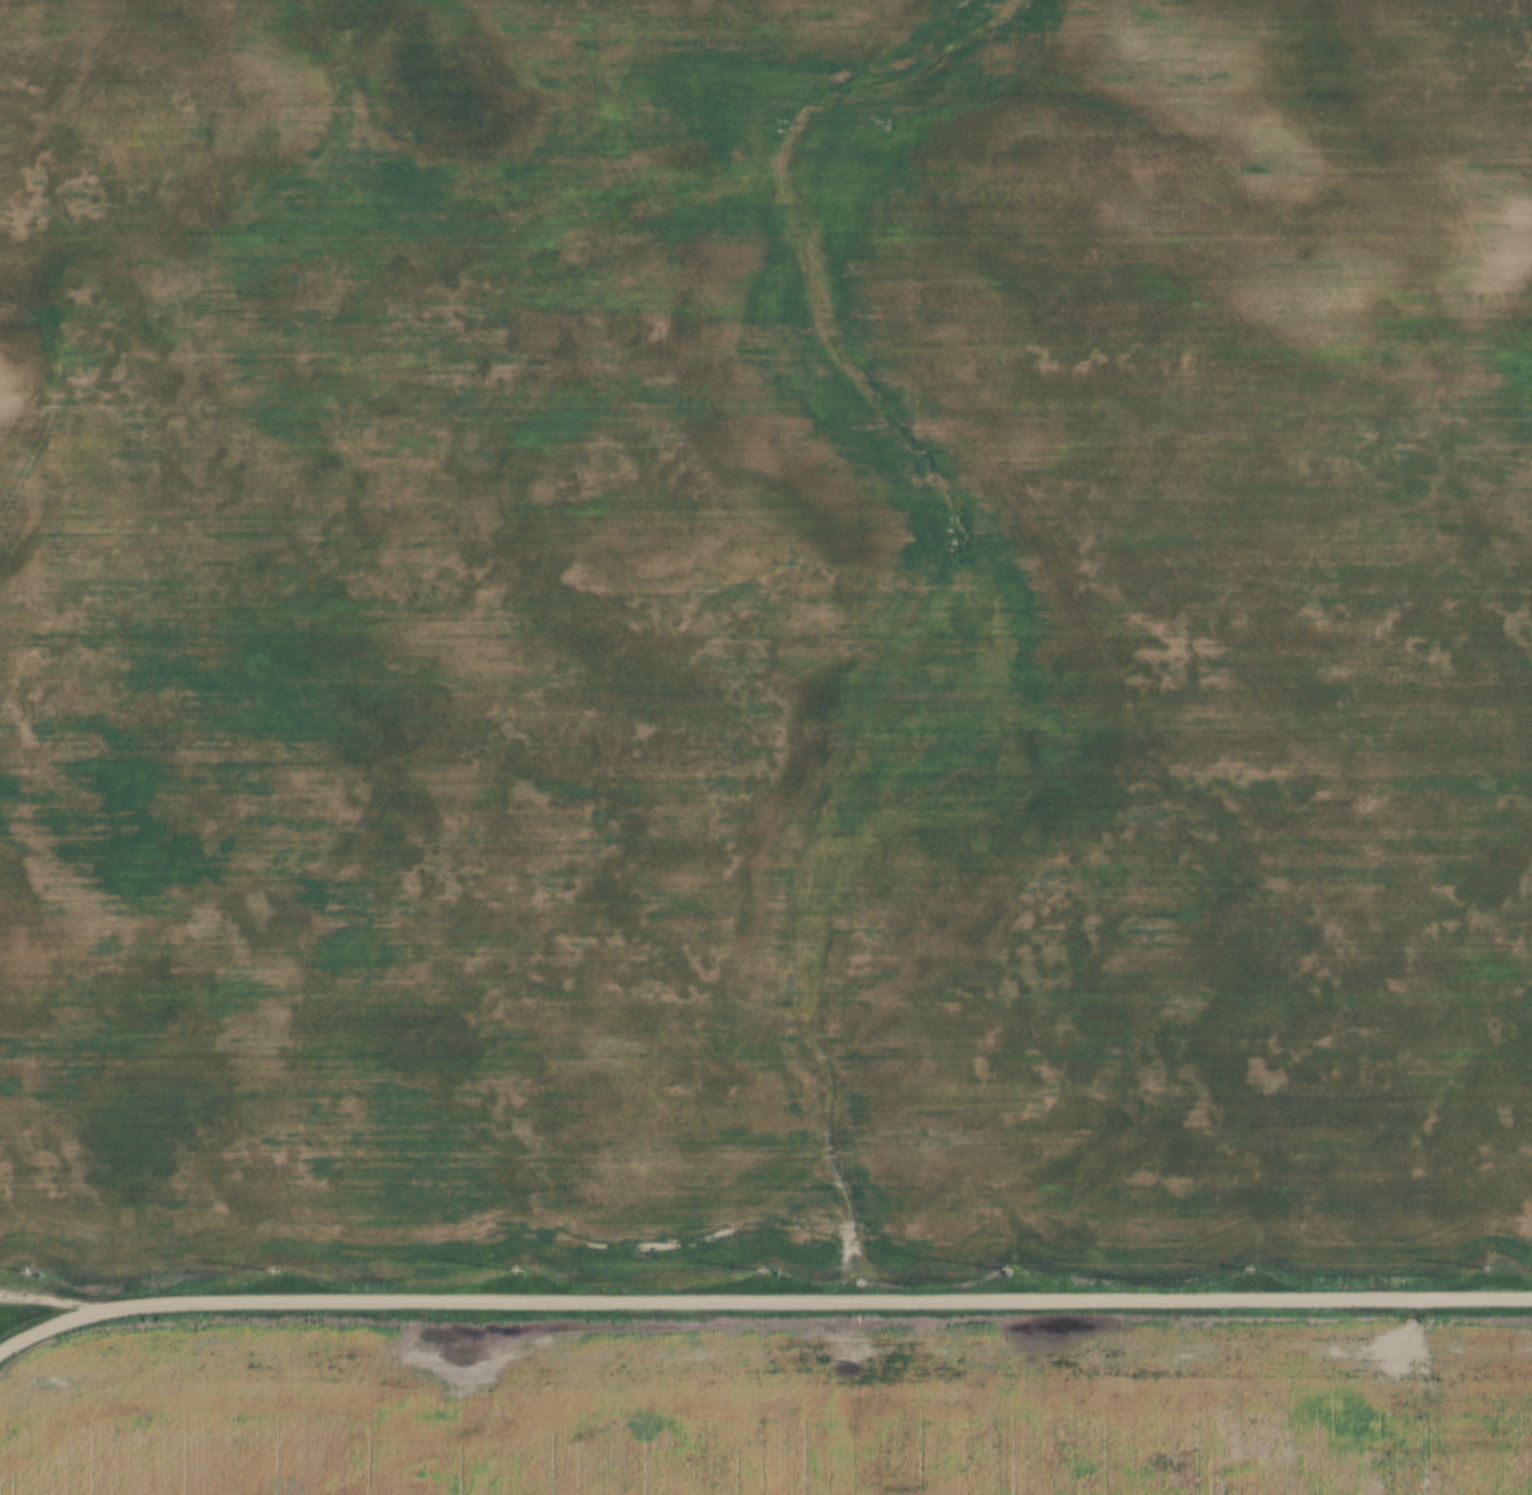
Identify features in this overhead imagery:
road: (54, 1298)
road: (819, 1299)
road: (53, 1327)

